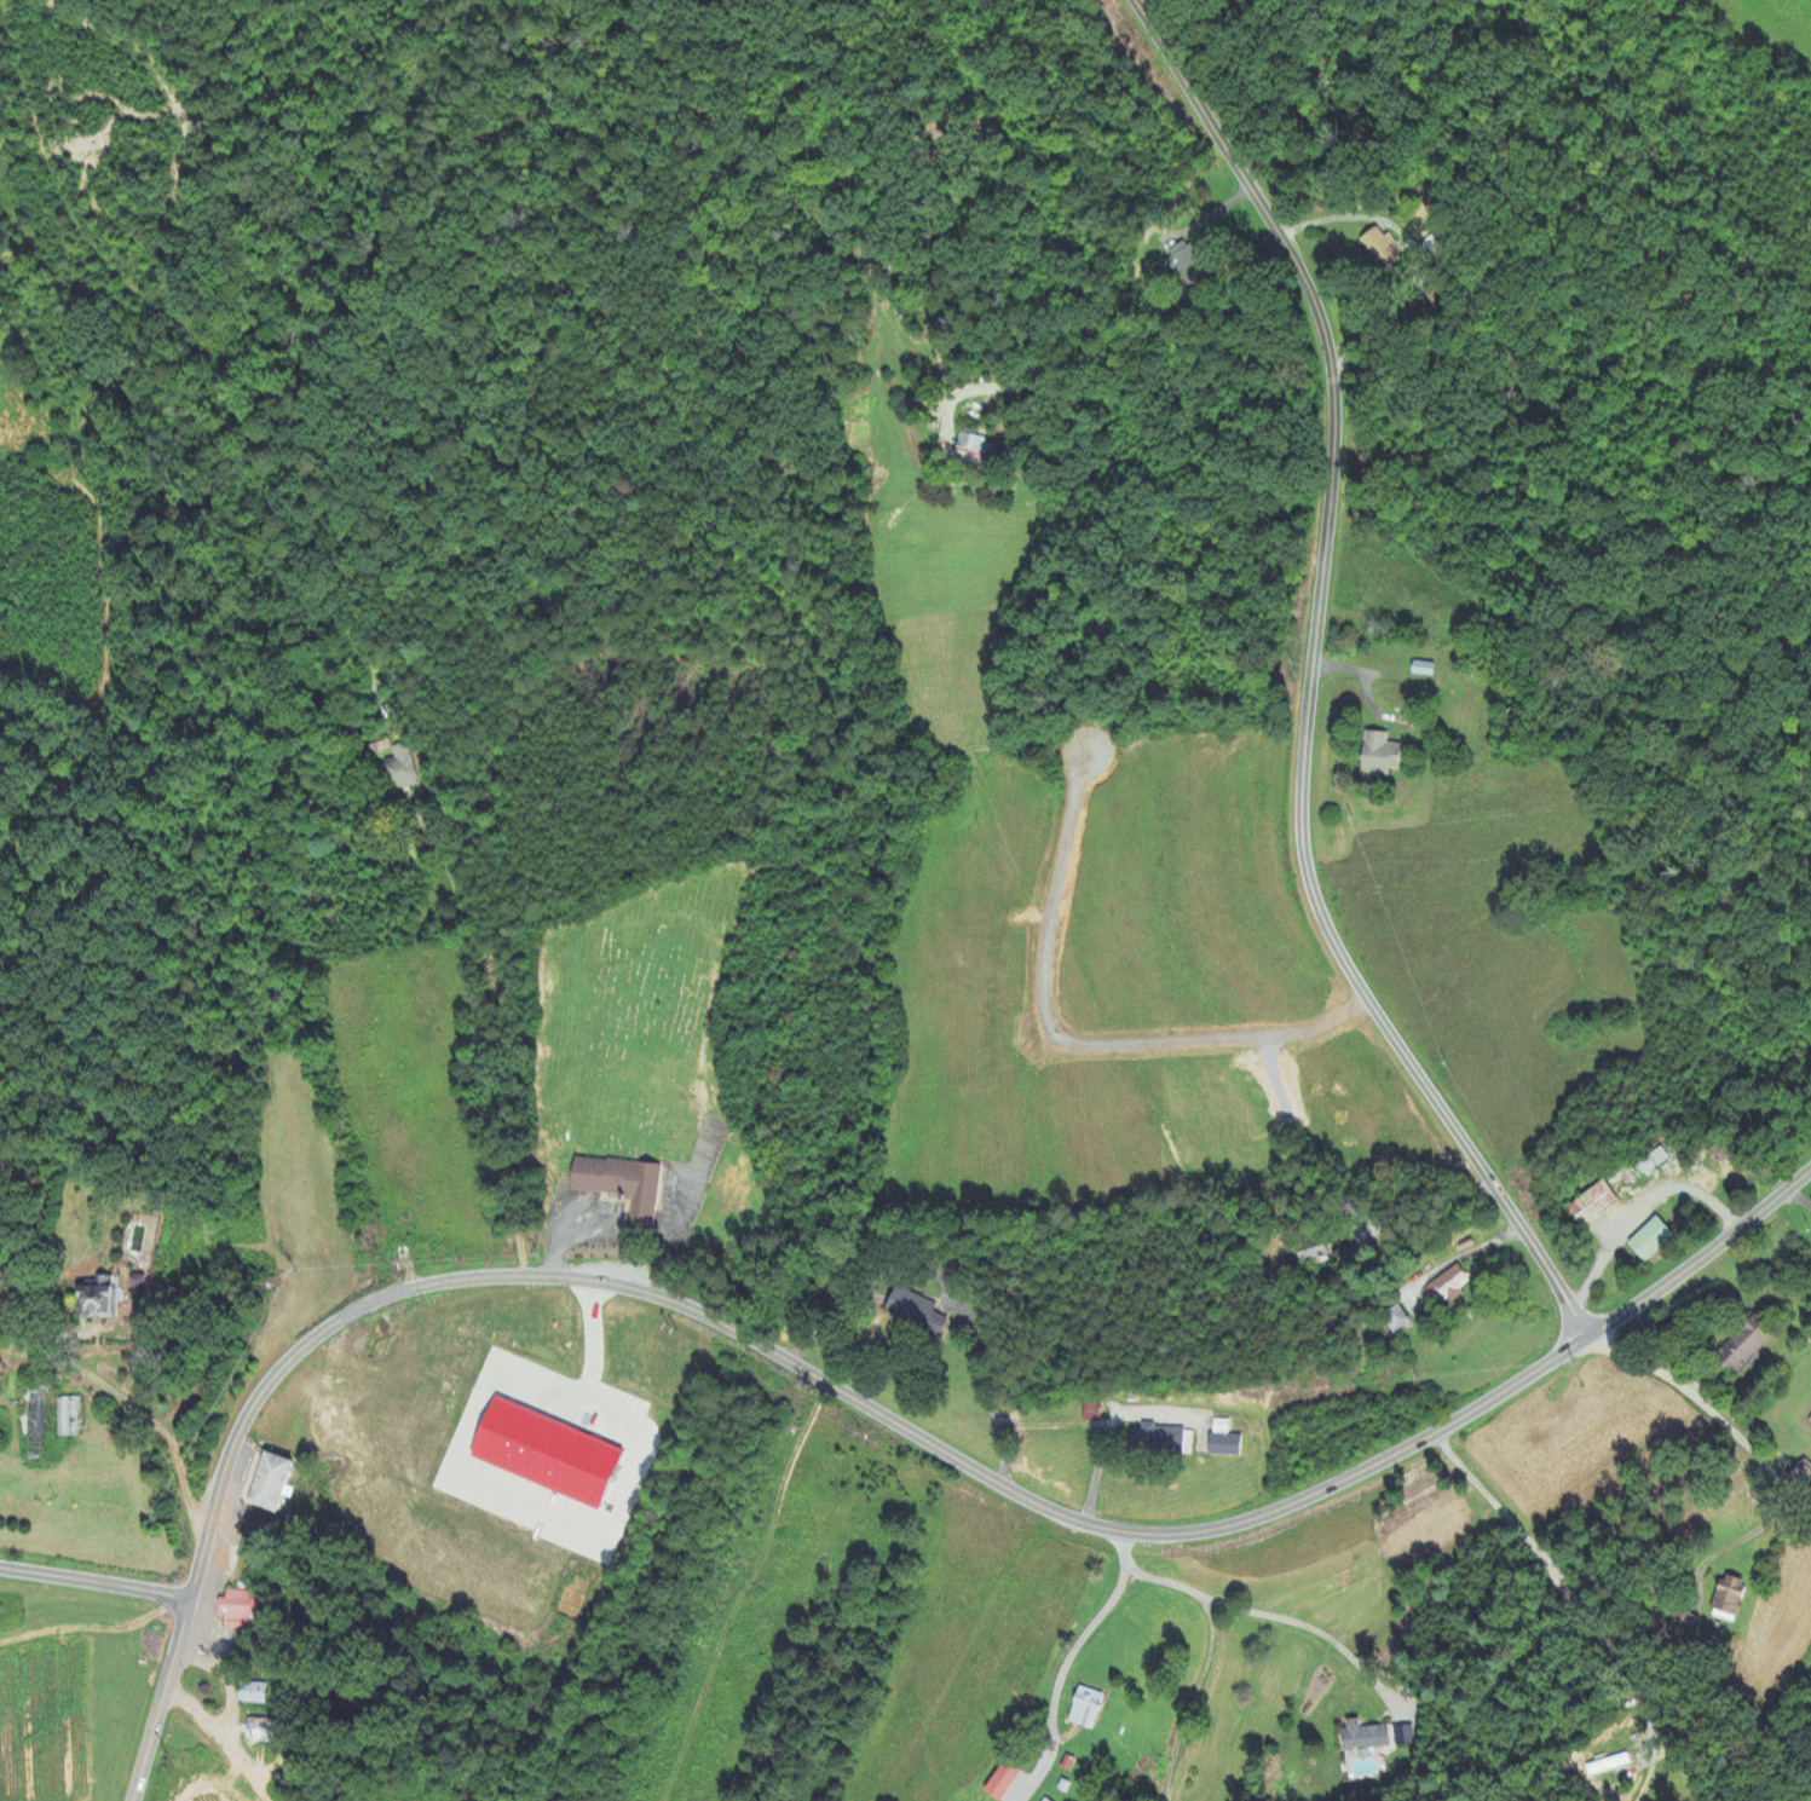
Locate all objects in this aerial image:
building: (1378, 249)
building: (1183, 265)
building: (975, 449)
road: (1310, 676)
building: (1375, 756)
building: (402, 770)
road: (477, 971)
building: (617, 1185)
building: (1592, 1206)
building: (1648, 1240)
building: (1308, 1252)
building: (134, 1282)
building: (1444, 1288)
building: (96, 1304)
building: (913, 1312)
building: (1394, 1320)
building: (1741, 1346)
road: (857, 1401)
building: (1089, 1413)
building: (65, 1419)
building: (1809, 1424)
building: (1221, 1441)
road: (1696, 1441)
building: (1158, 1442)
building: (547, 1454)
building: (264, 1480)
road: (94, 1581)
building: (1725, 1600)
building: (231, 1606)
road: (1264, 1612)
road: (1563, 1622)
road: (1056, 1678)
building: (248, 1693)
road: (1190, 1698)
building: (1080, 1709)
building: (256, 1731)
building: (1362, 1738)
building: (1605, 1766)
road: (1712, 1774)
road: (1626, 1776)
building: (997, 1782)
building: (1038, 1800)

